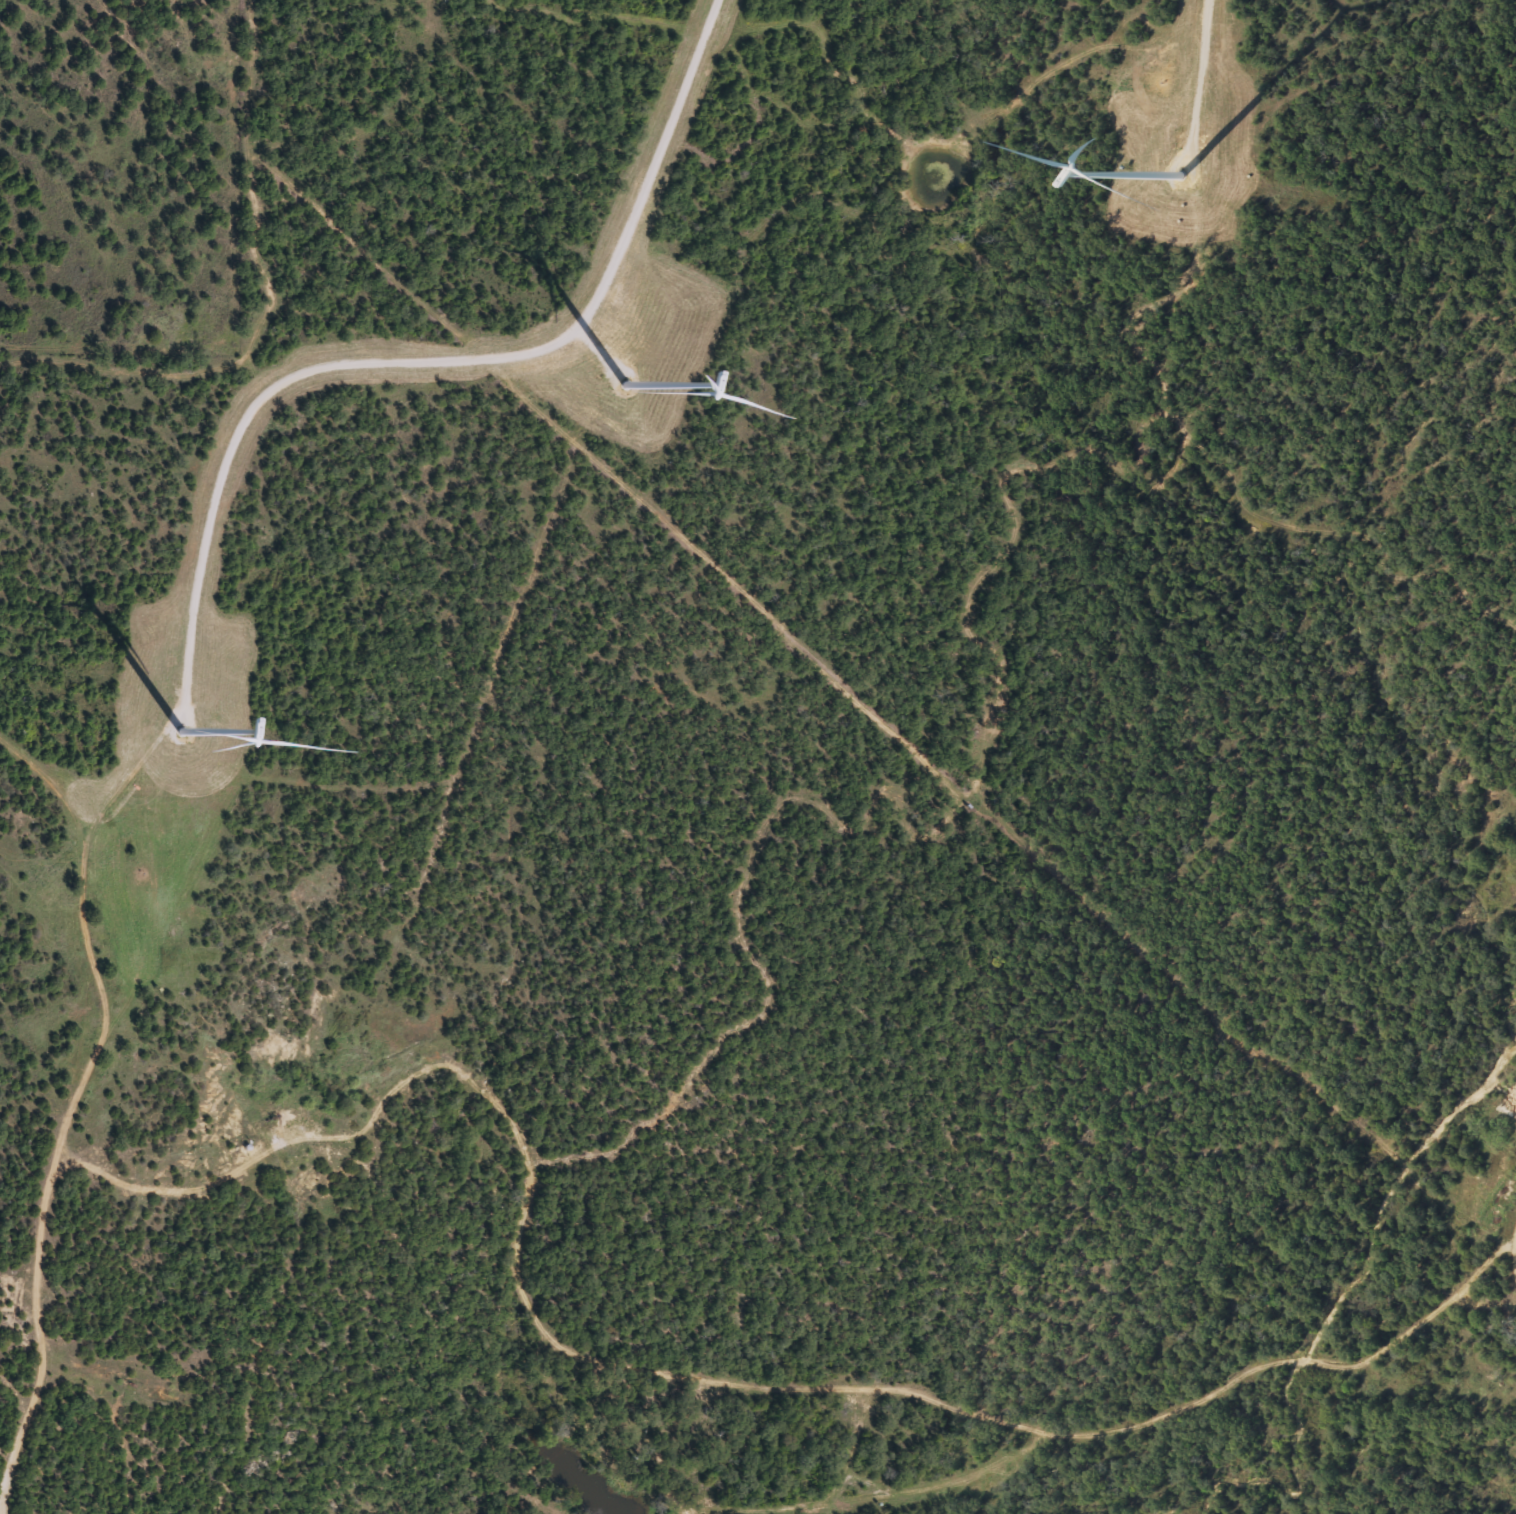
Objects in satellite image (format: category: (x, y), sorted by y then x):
wind turbine: (1180, 166)
wind turbine: (623, 382)
wind turbine: (176, 727)

